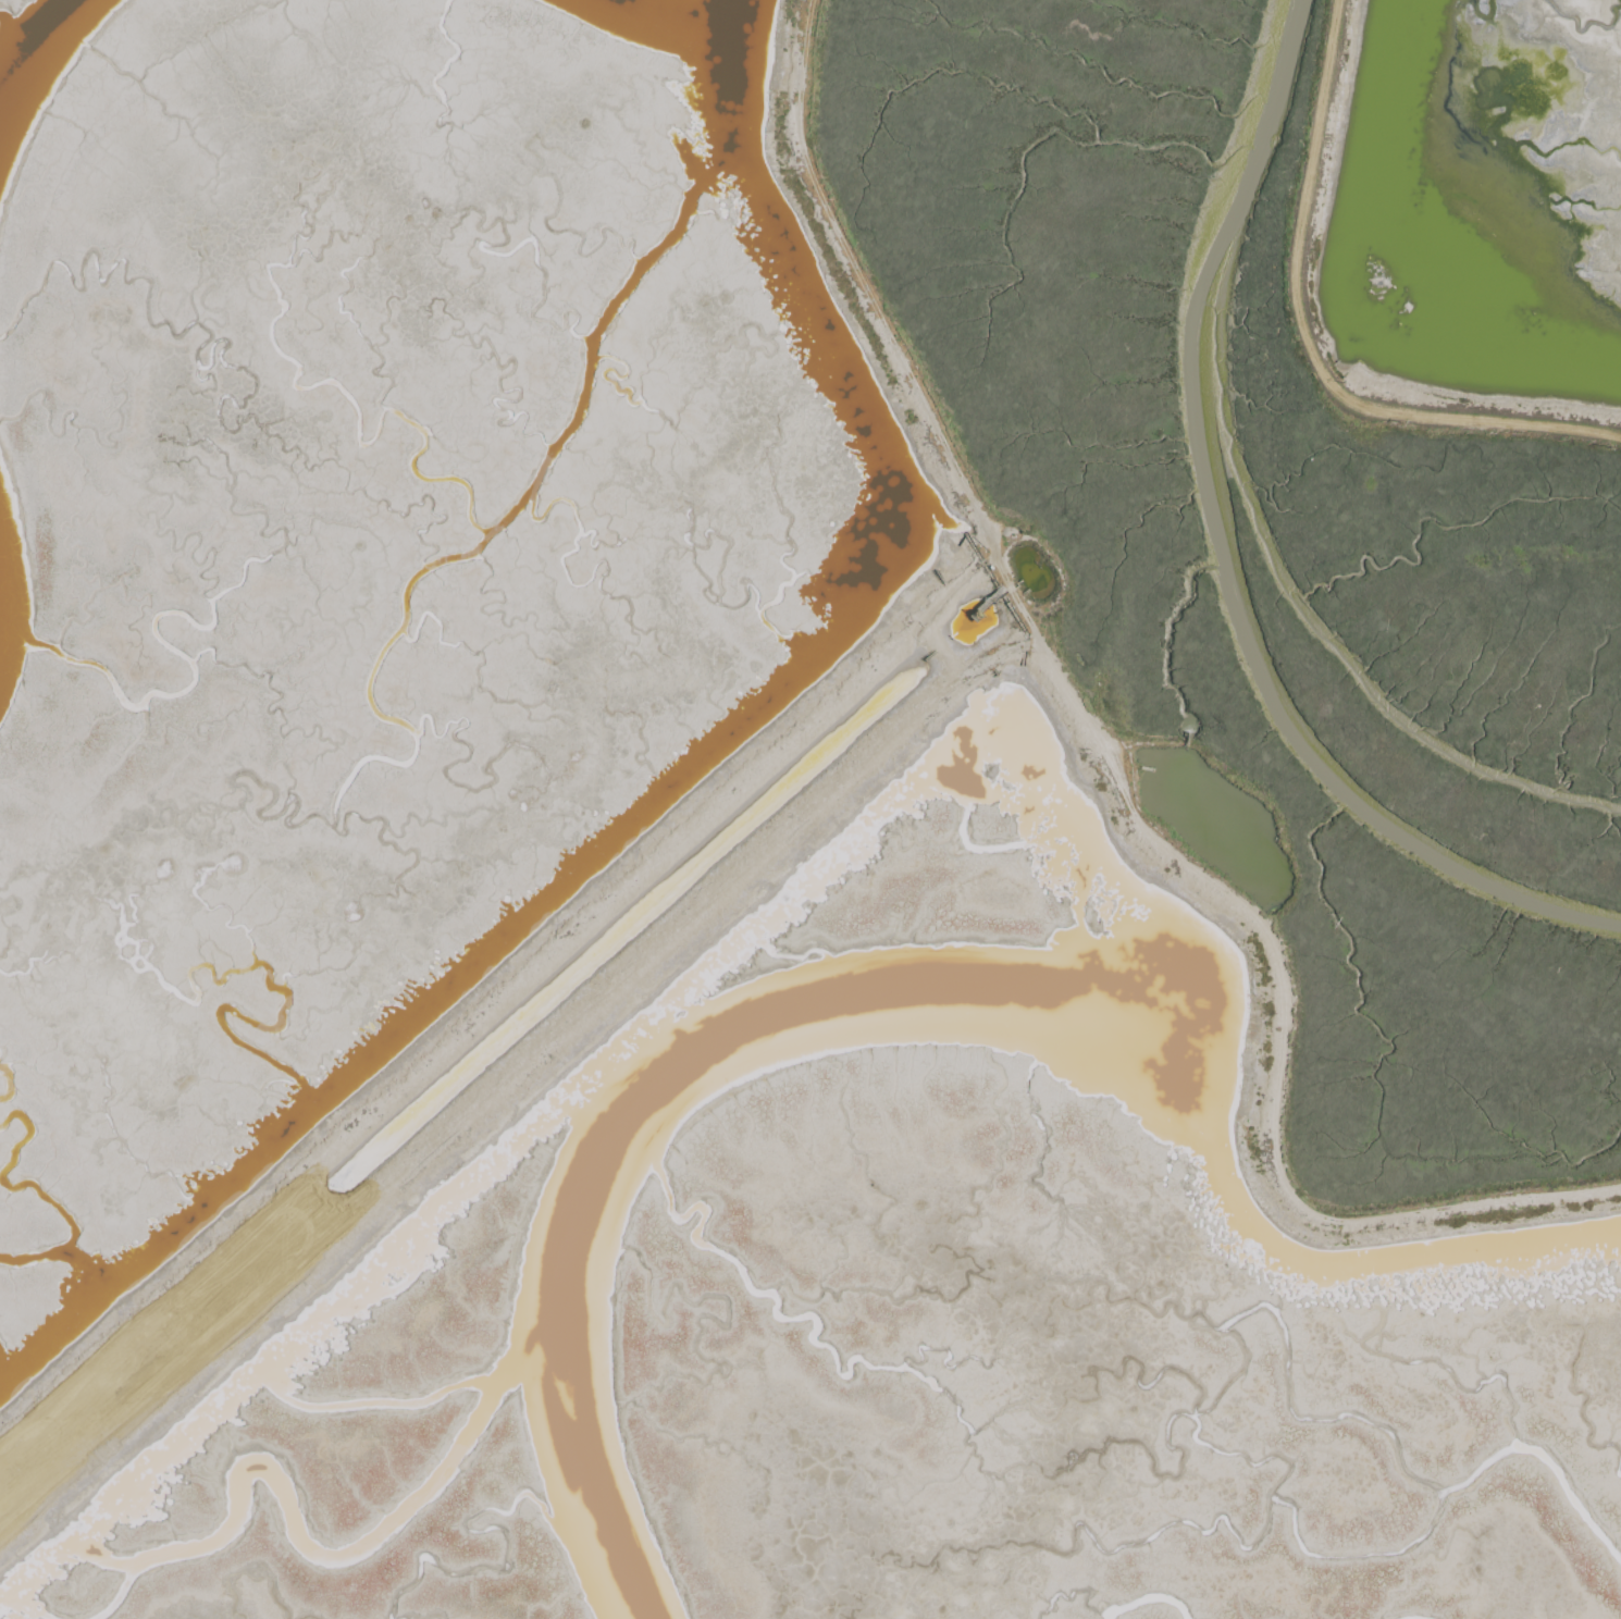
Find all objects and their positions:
road: (843, 288)
road: (1308, 341)
road: (912, 630)
road: (508, 1087)

